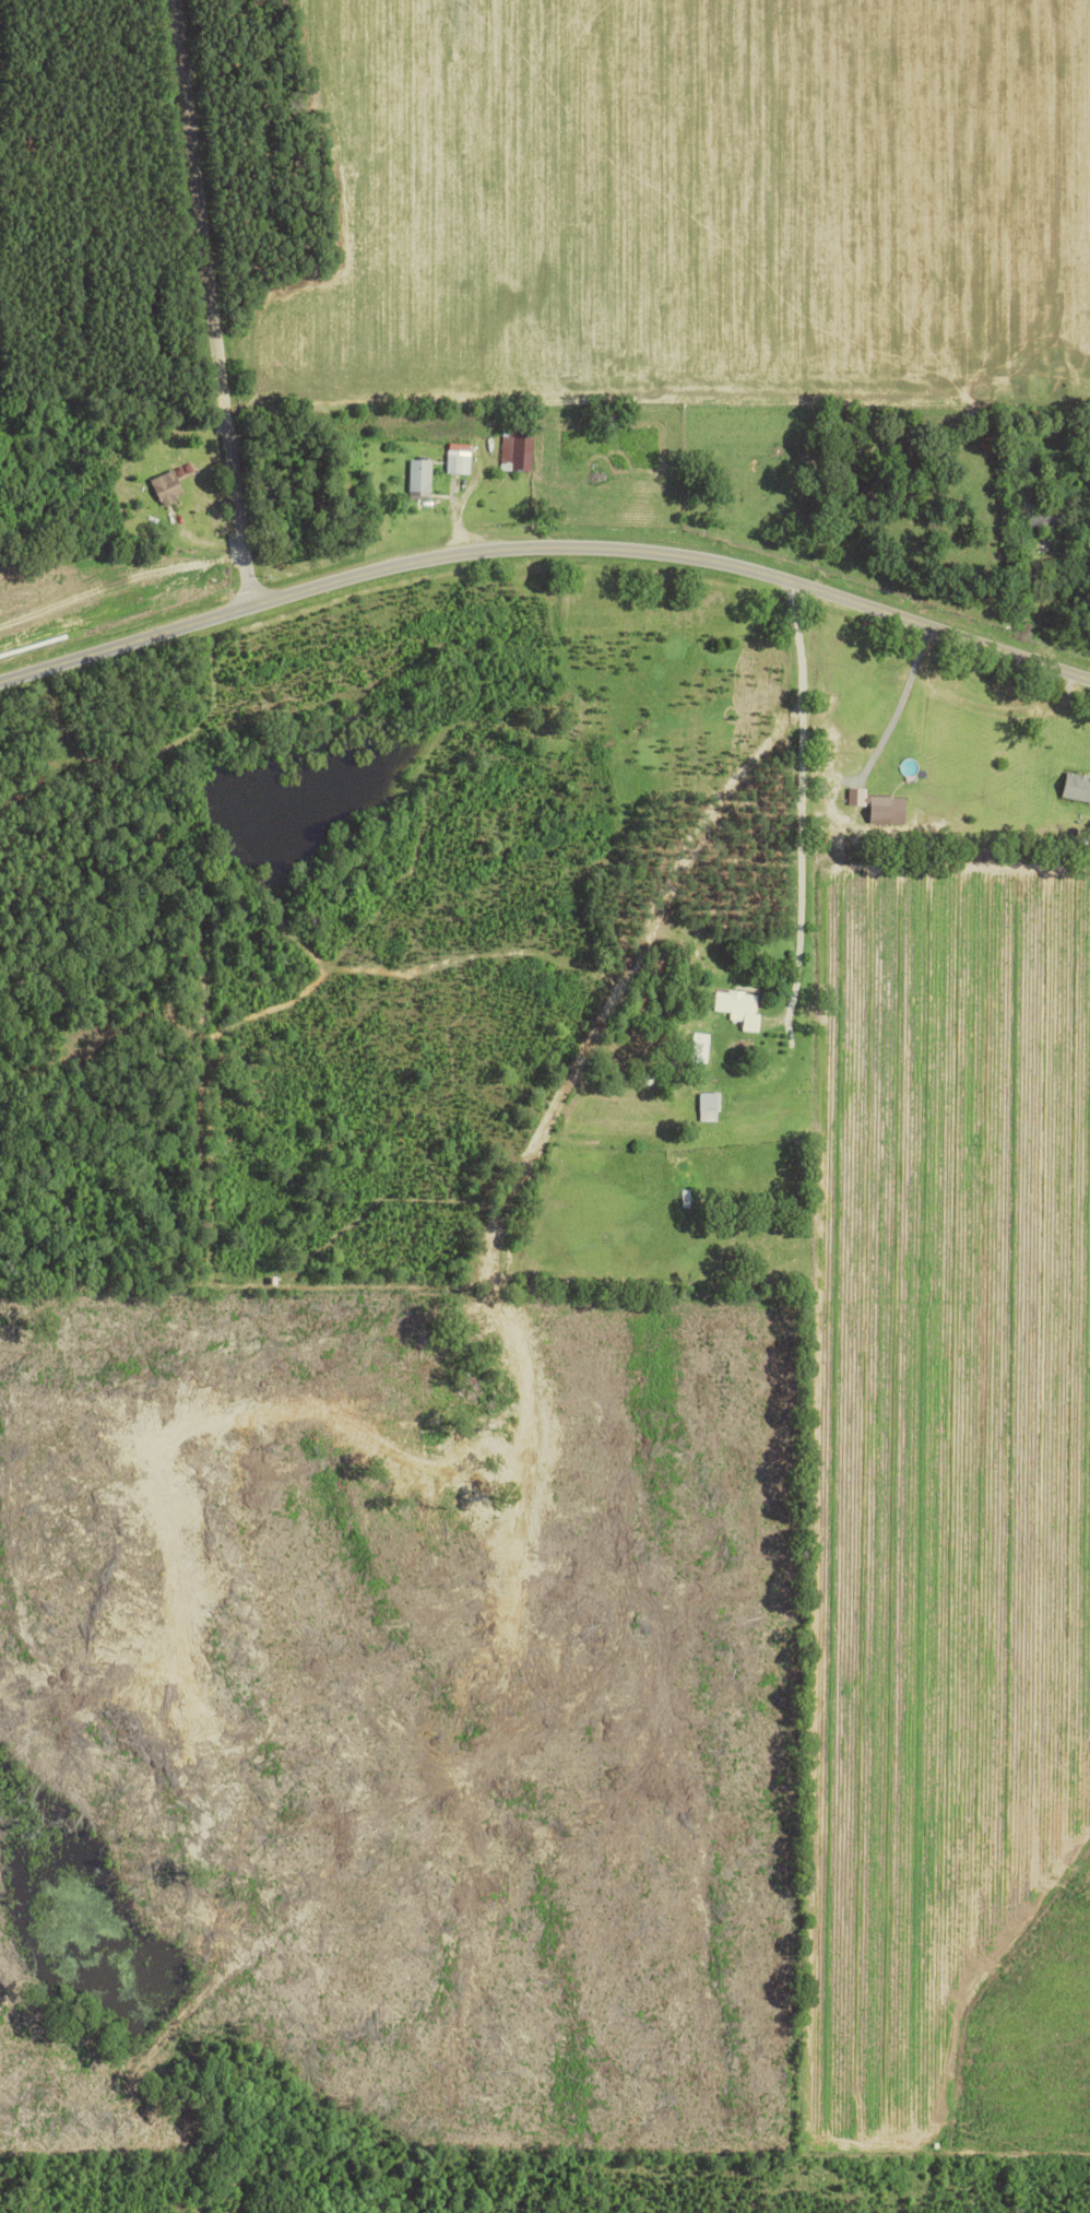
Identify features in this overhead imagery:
road: (214, 298)
road: (974, 428)
building: (518, 450)
building: (460, 460)
building: (420, 479)
building: (170, 487)
road: (547, 545)
road: (903, 702)
road: (1070, 725)
building: (1078, 786)
building: (882, 805)
road: (808, 822)
road: (618, 988)
building: (743, 1008)

